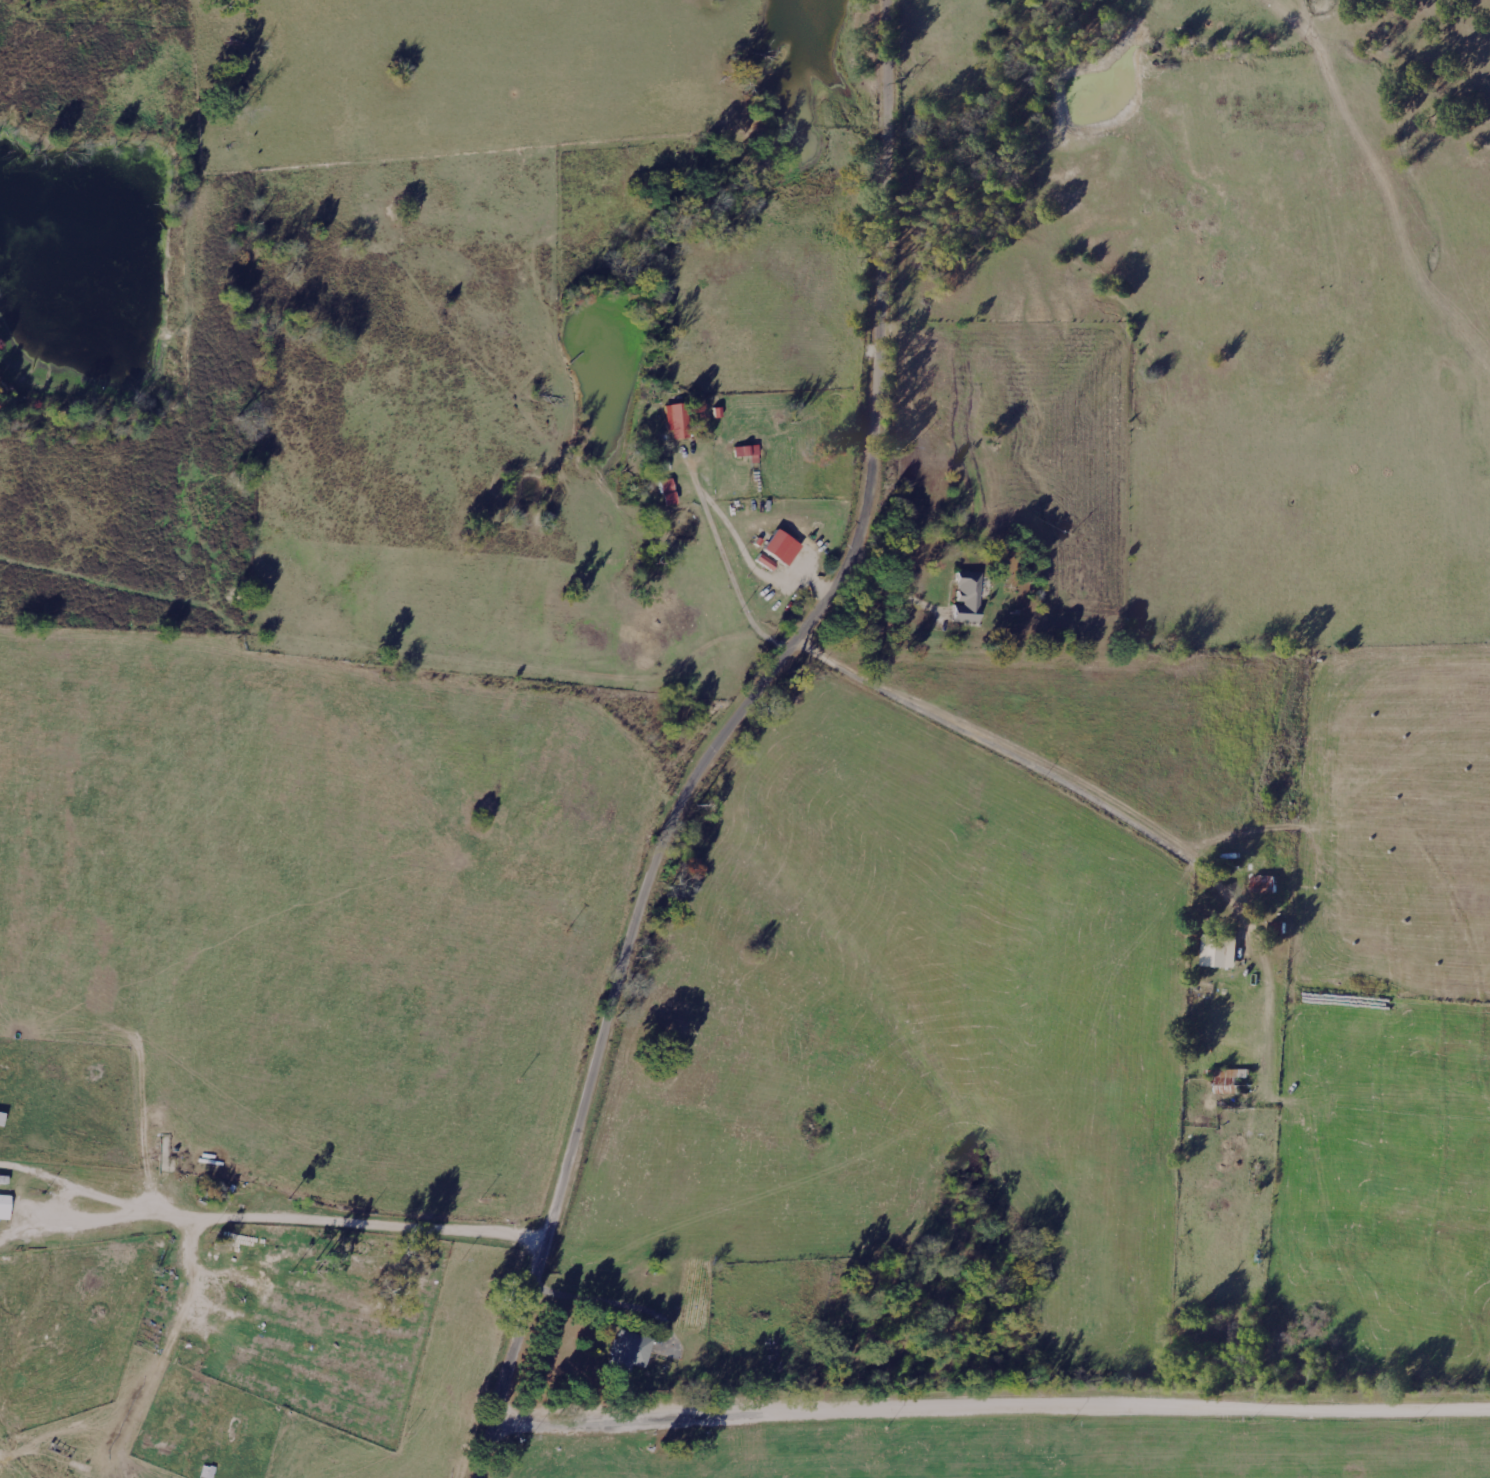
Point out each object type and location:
road: (879, 335)
building: (678, 421)
building: (745, 451)
building: (666, 492)
building: (780, 548)
building: (764, 562)
road: (725, 568)
road: (887, 596)
building: (966, 599)
building: (1221, 951)
road: (597, 1047)
building: (1231, 1080)
building: (4, 1206)
building: (629, 1351)
road: (990, 1410)

